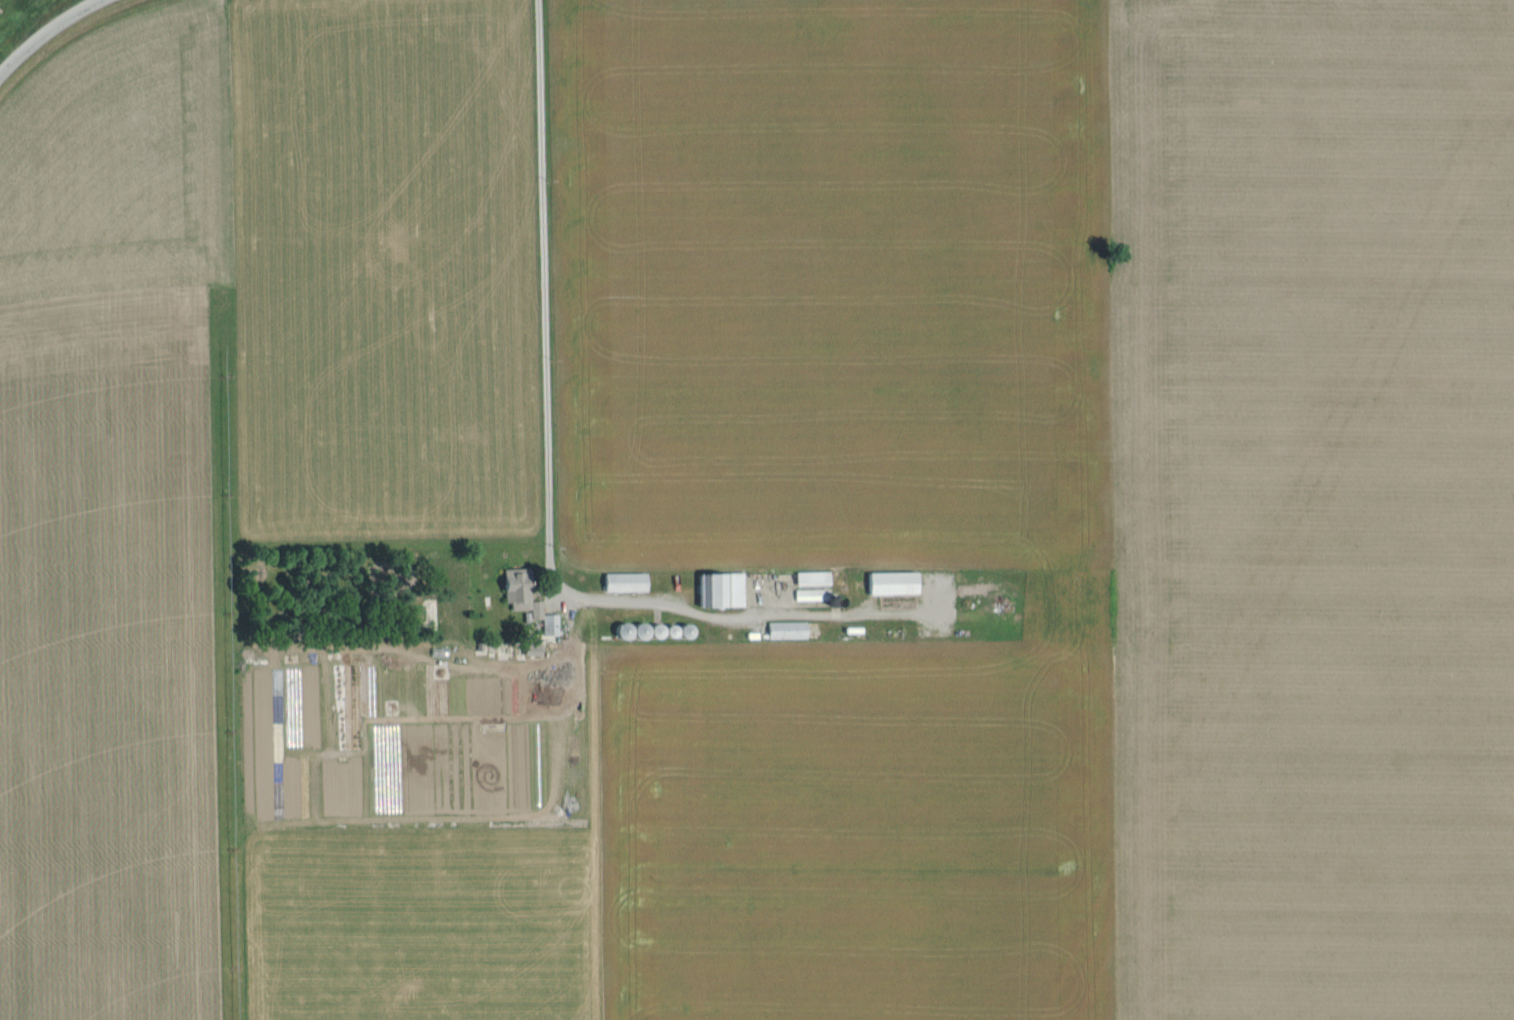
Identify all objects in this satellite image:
road: (48, 33)
road: (545, 304)
building: (513, 583)
building: (623, 584)
building: (892, 585)
building: (720, 592)
building: (550, 626)
building: (786, 632)

